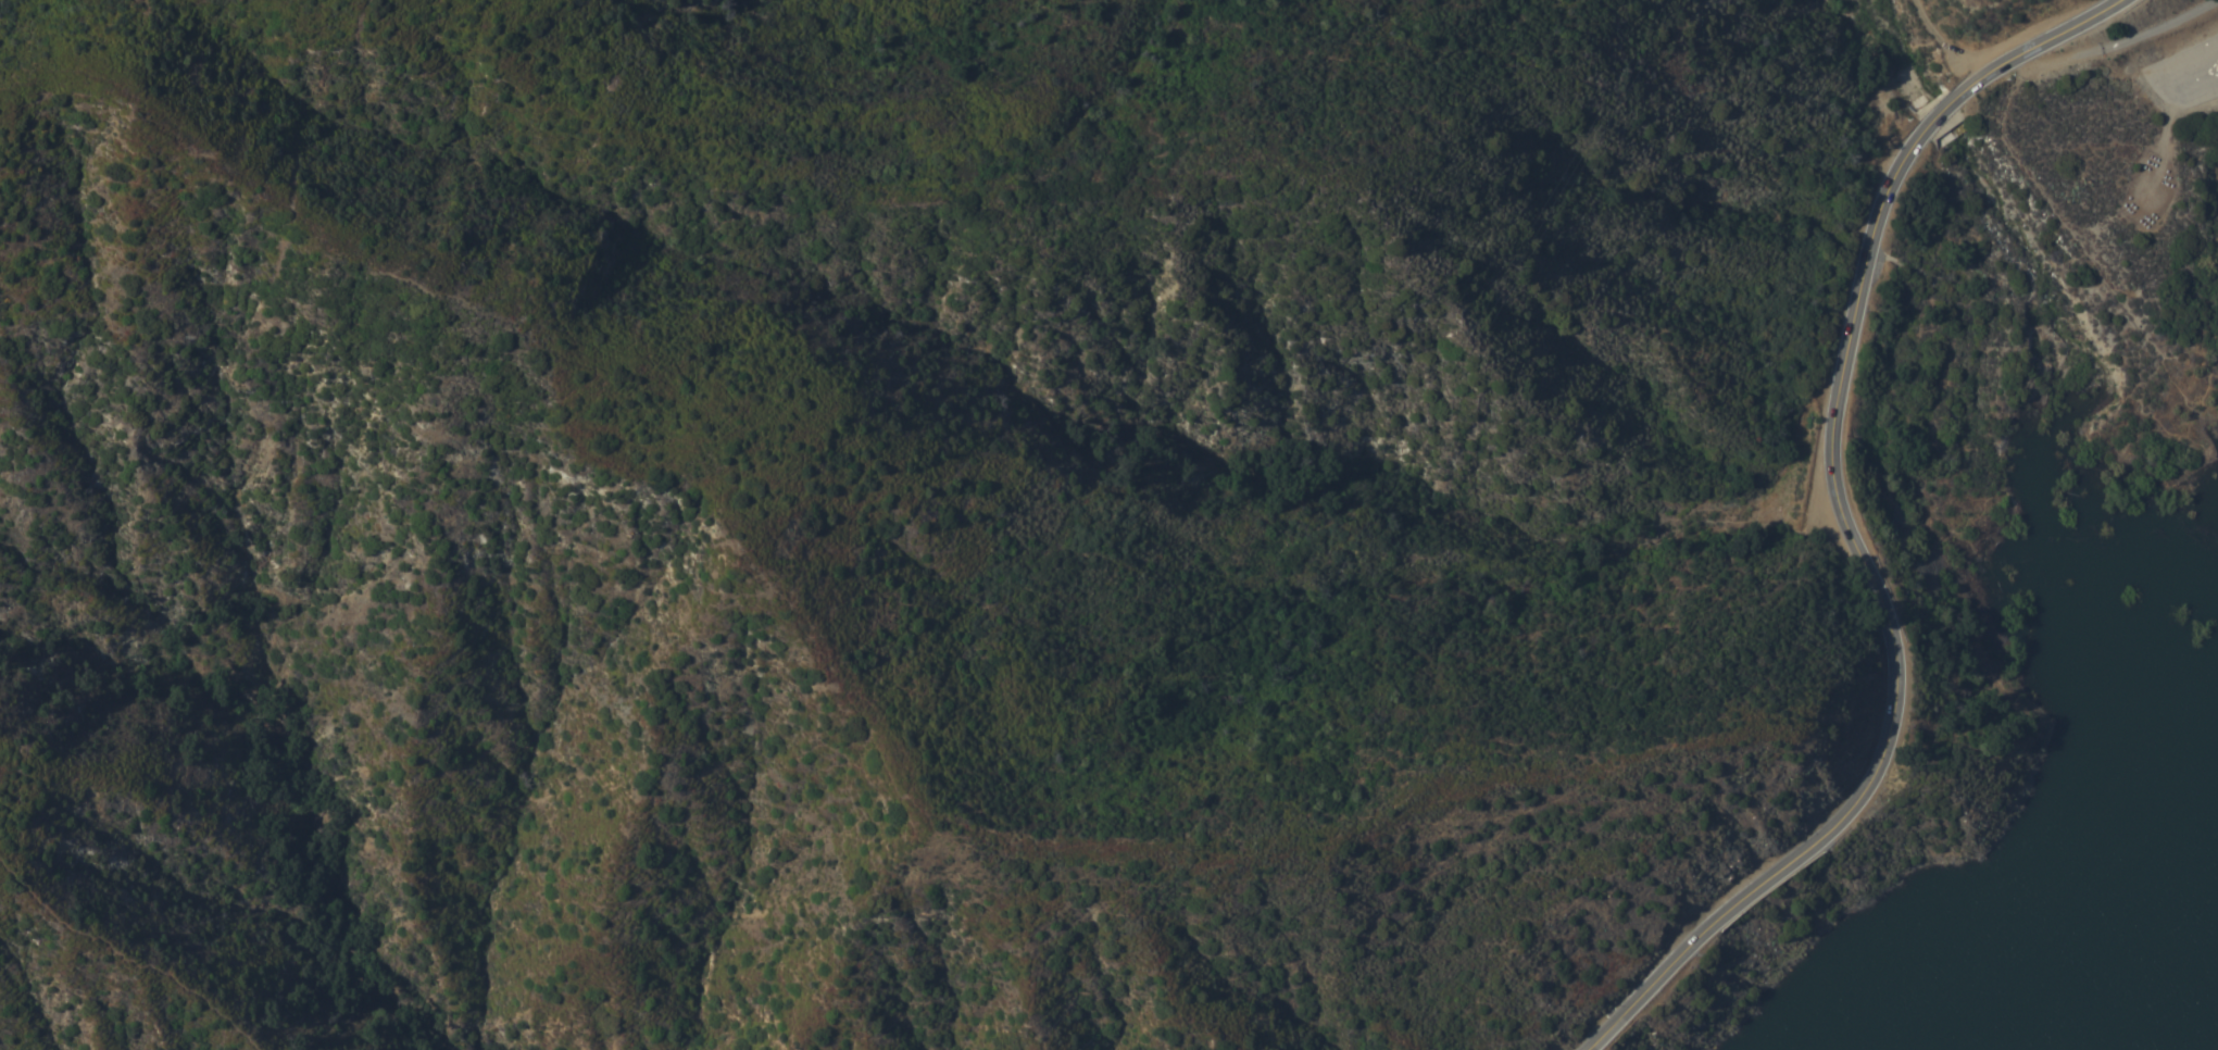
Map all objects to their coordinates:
road: (1850, 529)

